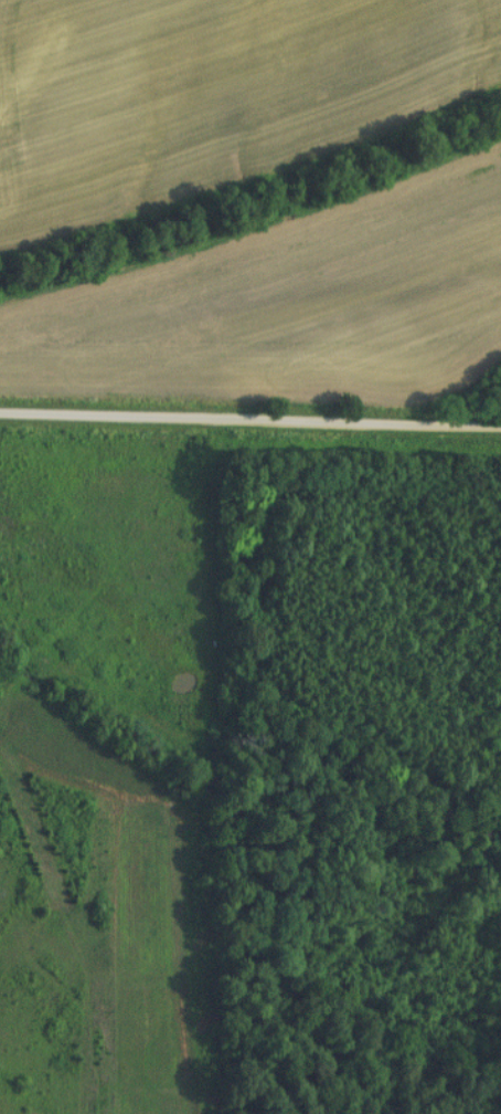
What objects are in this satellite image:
road: (249, 423)

